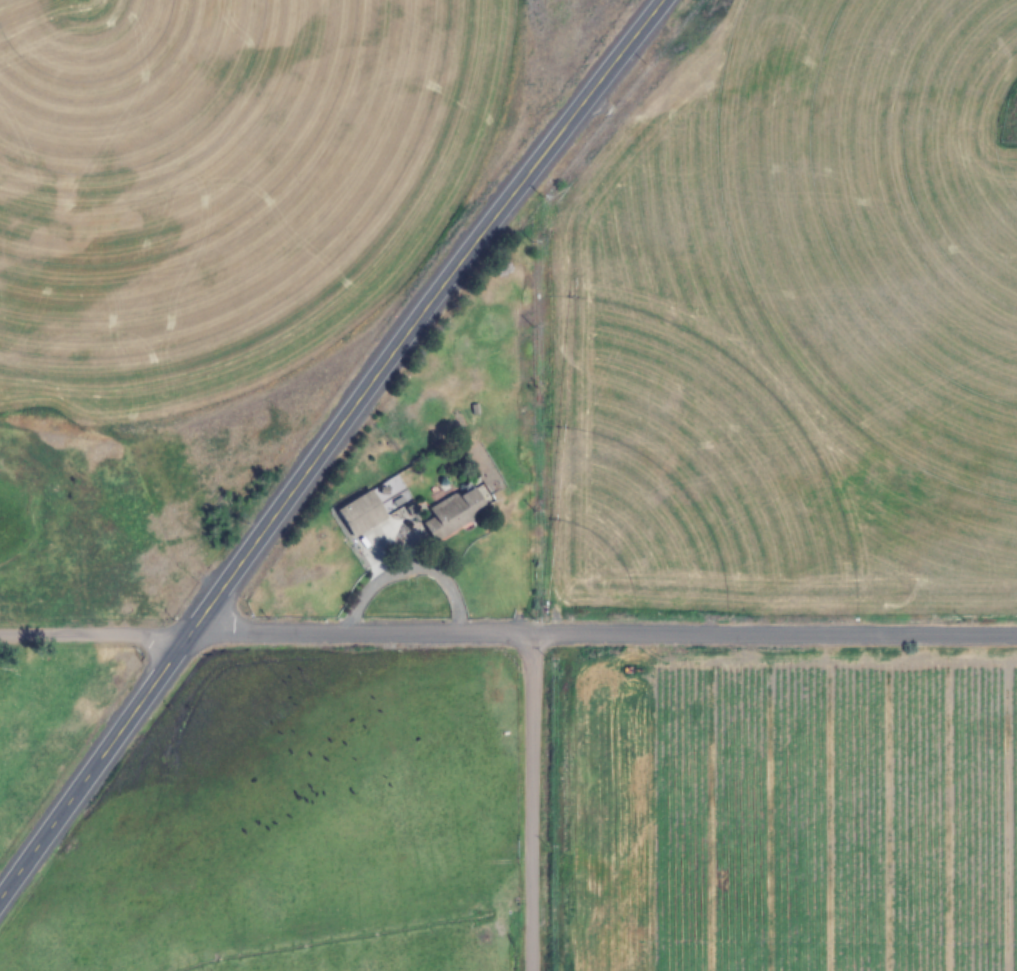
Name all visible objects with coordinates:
road: (325, 444)
building: (454, 513)
building: (365, 523)
road: (95, 631)
road: (359, 633)
road: (772, 635)
crop: (511, 790)
road: (527, 803)

